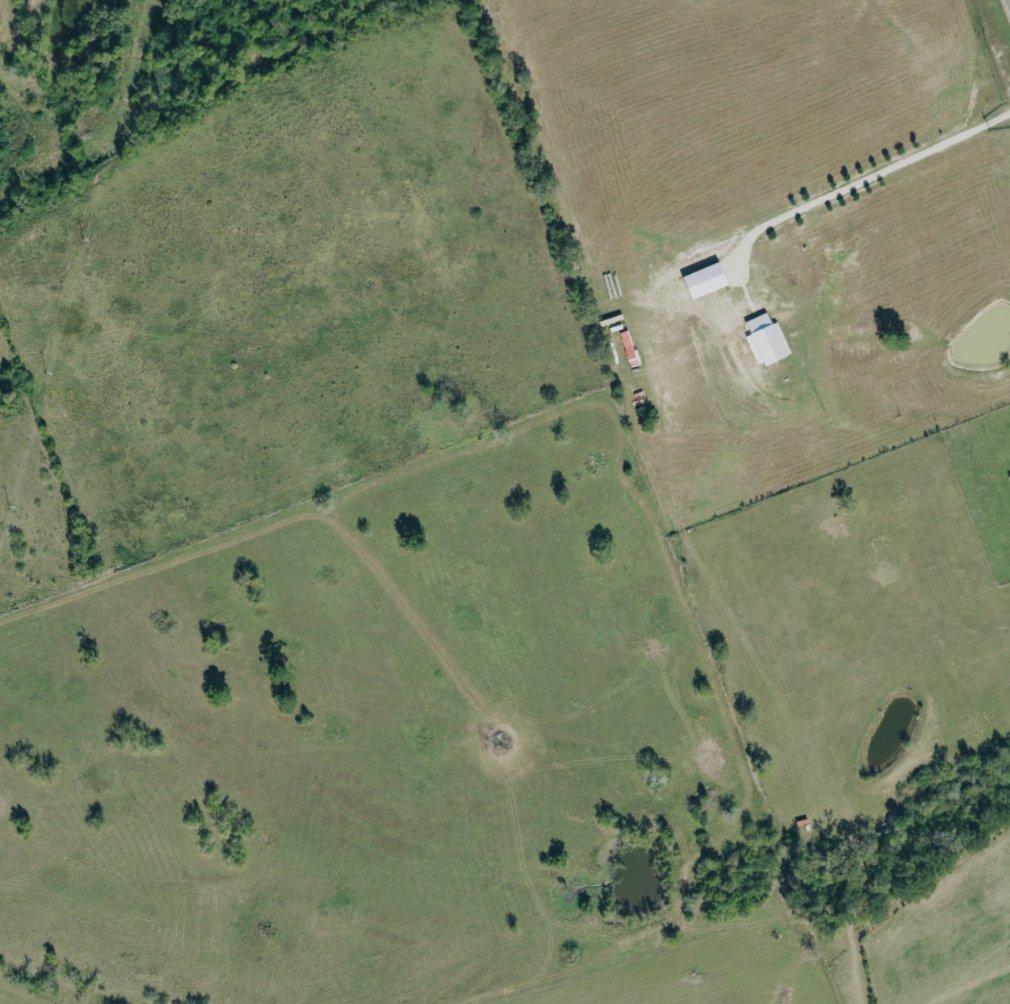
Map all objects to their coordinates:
building: (770, 343)
building: (631, 347)

